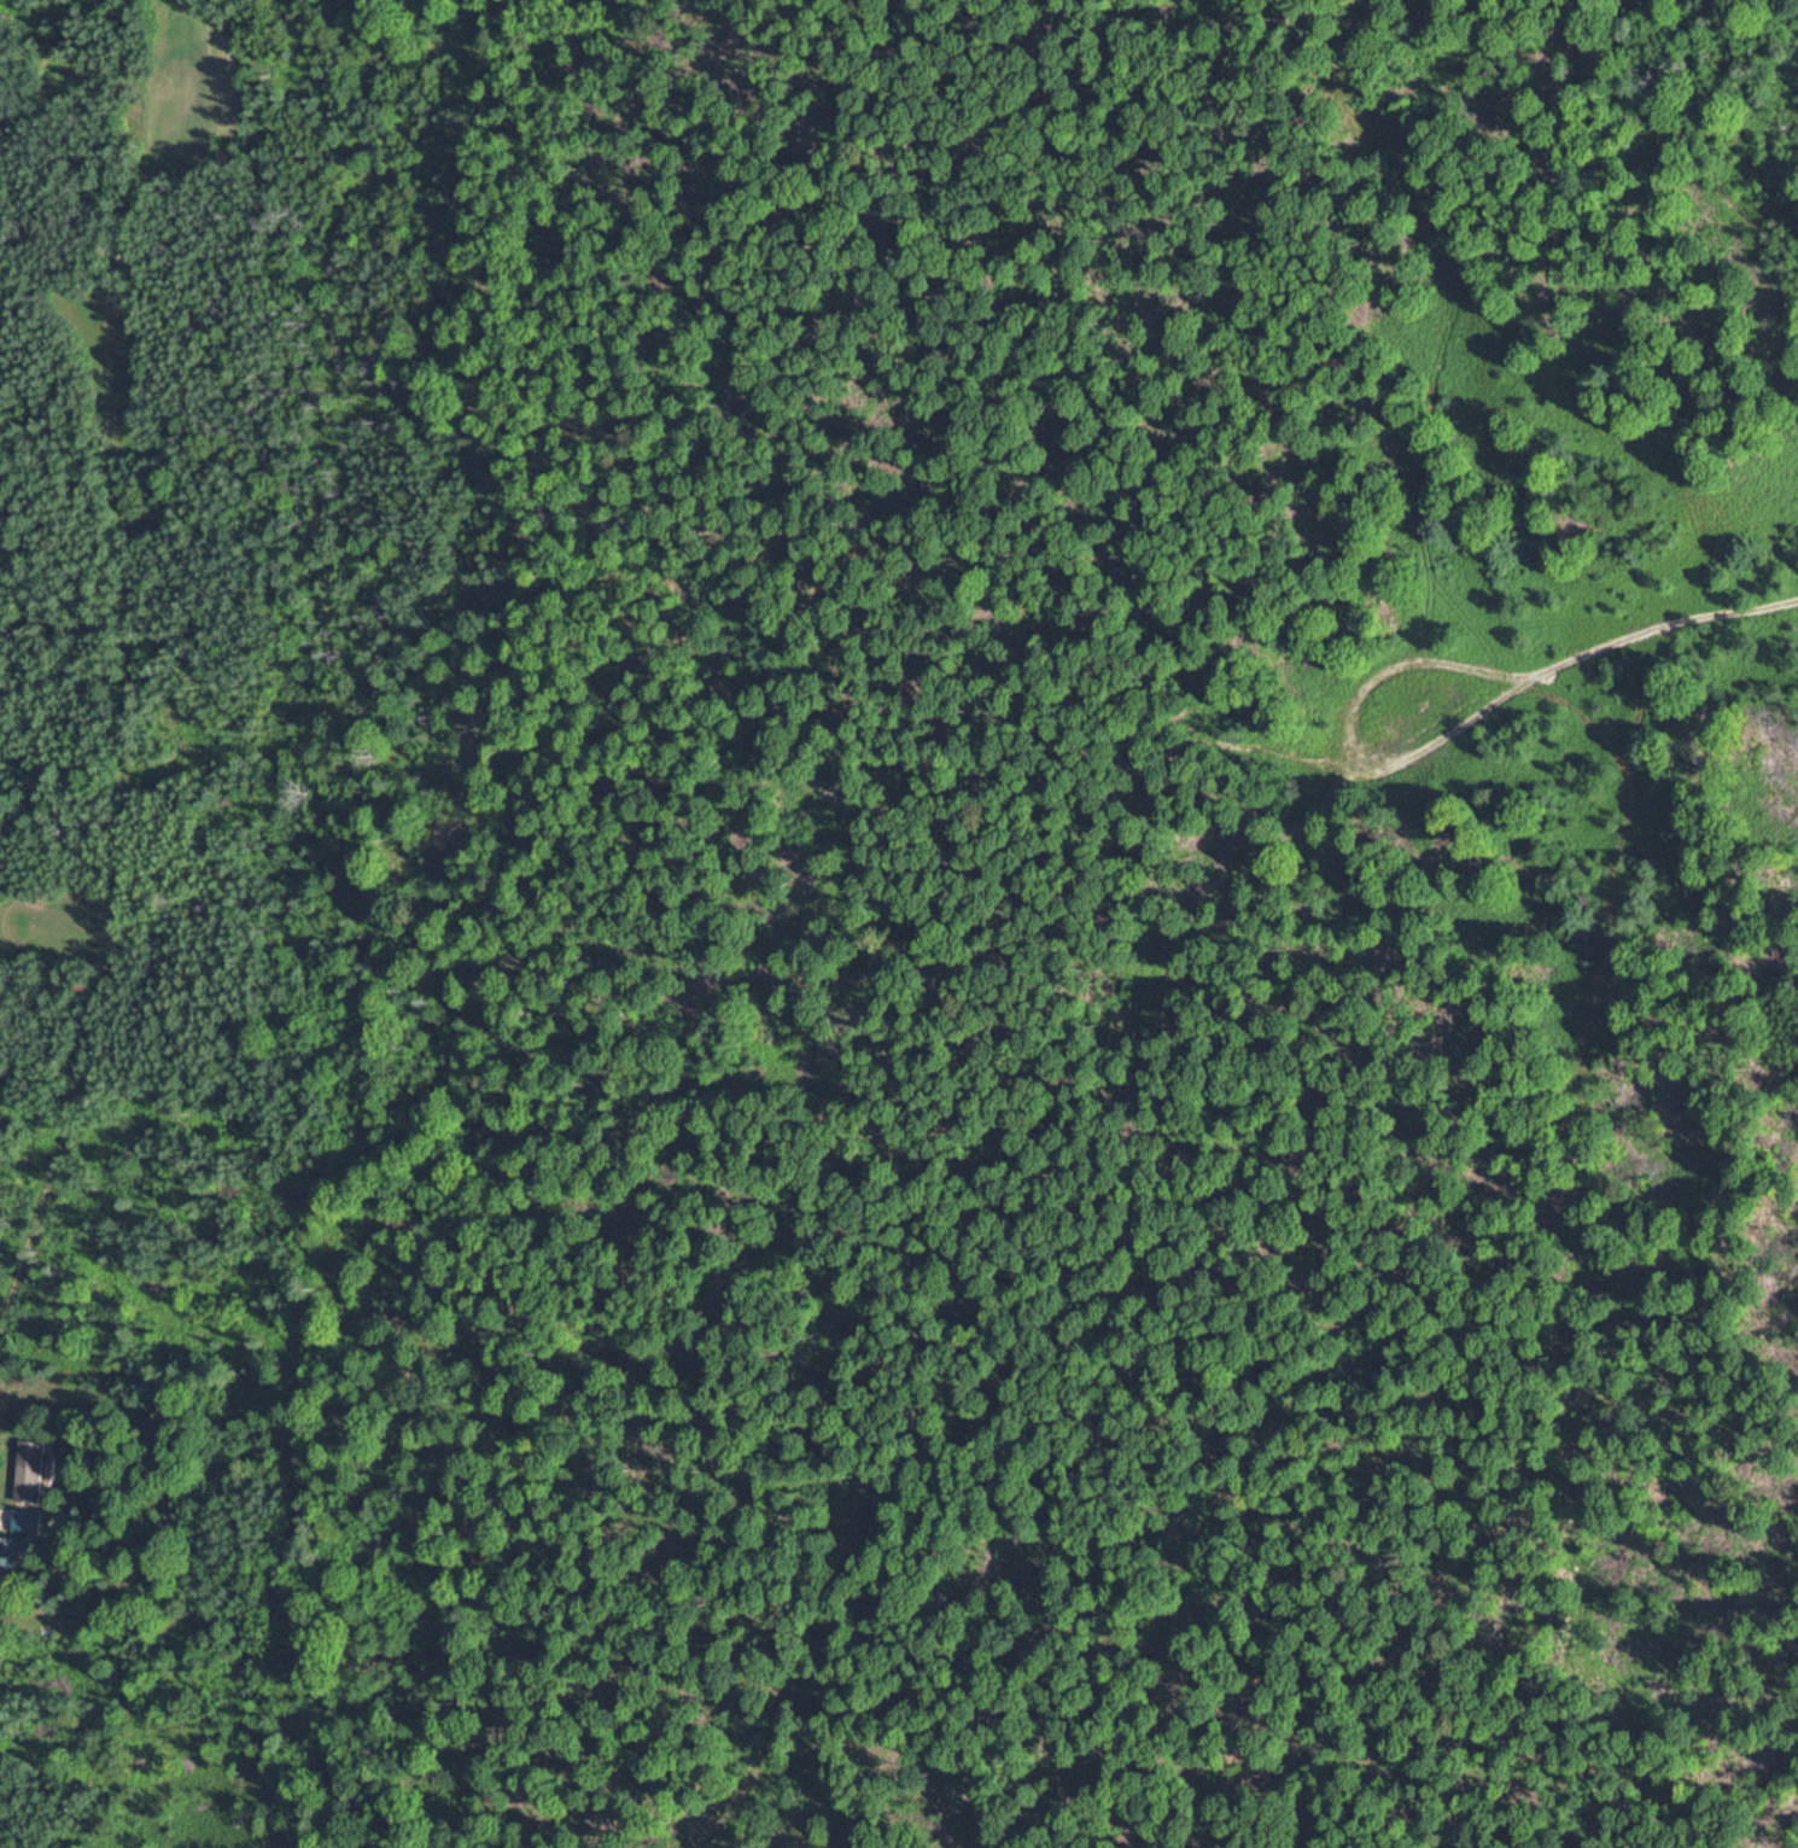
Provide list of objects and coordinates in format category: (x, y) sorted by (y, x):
road: (129, 716)
road: (1385, 764)
building: (31, 1471)
building: (8, 1550)

